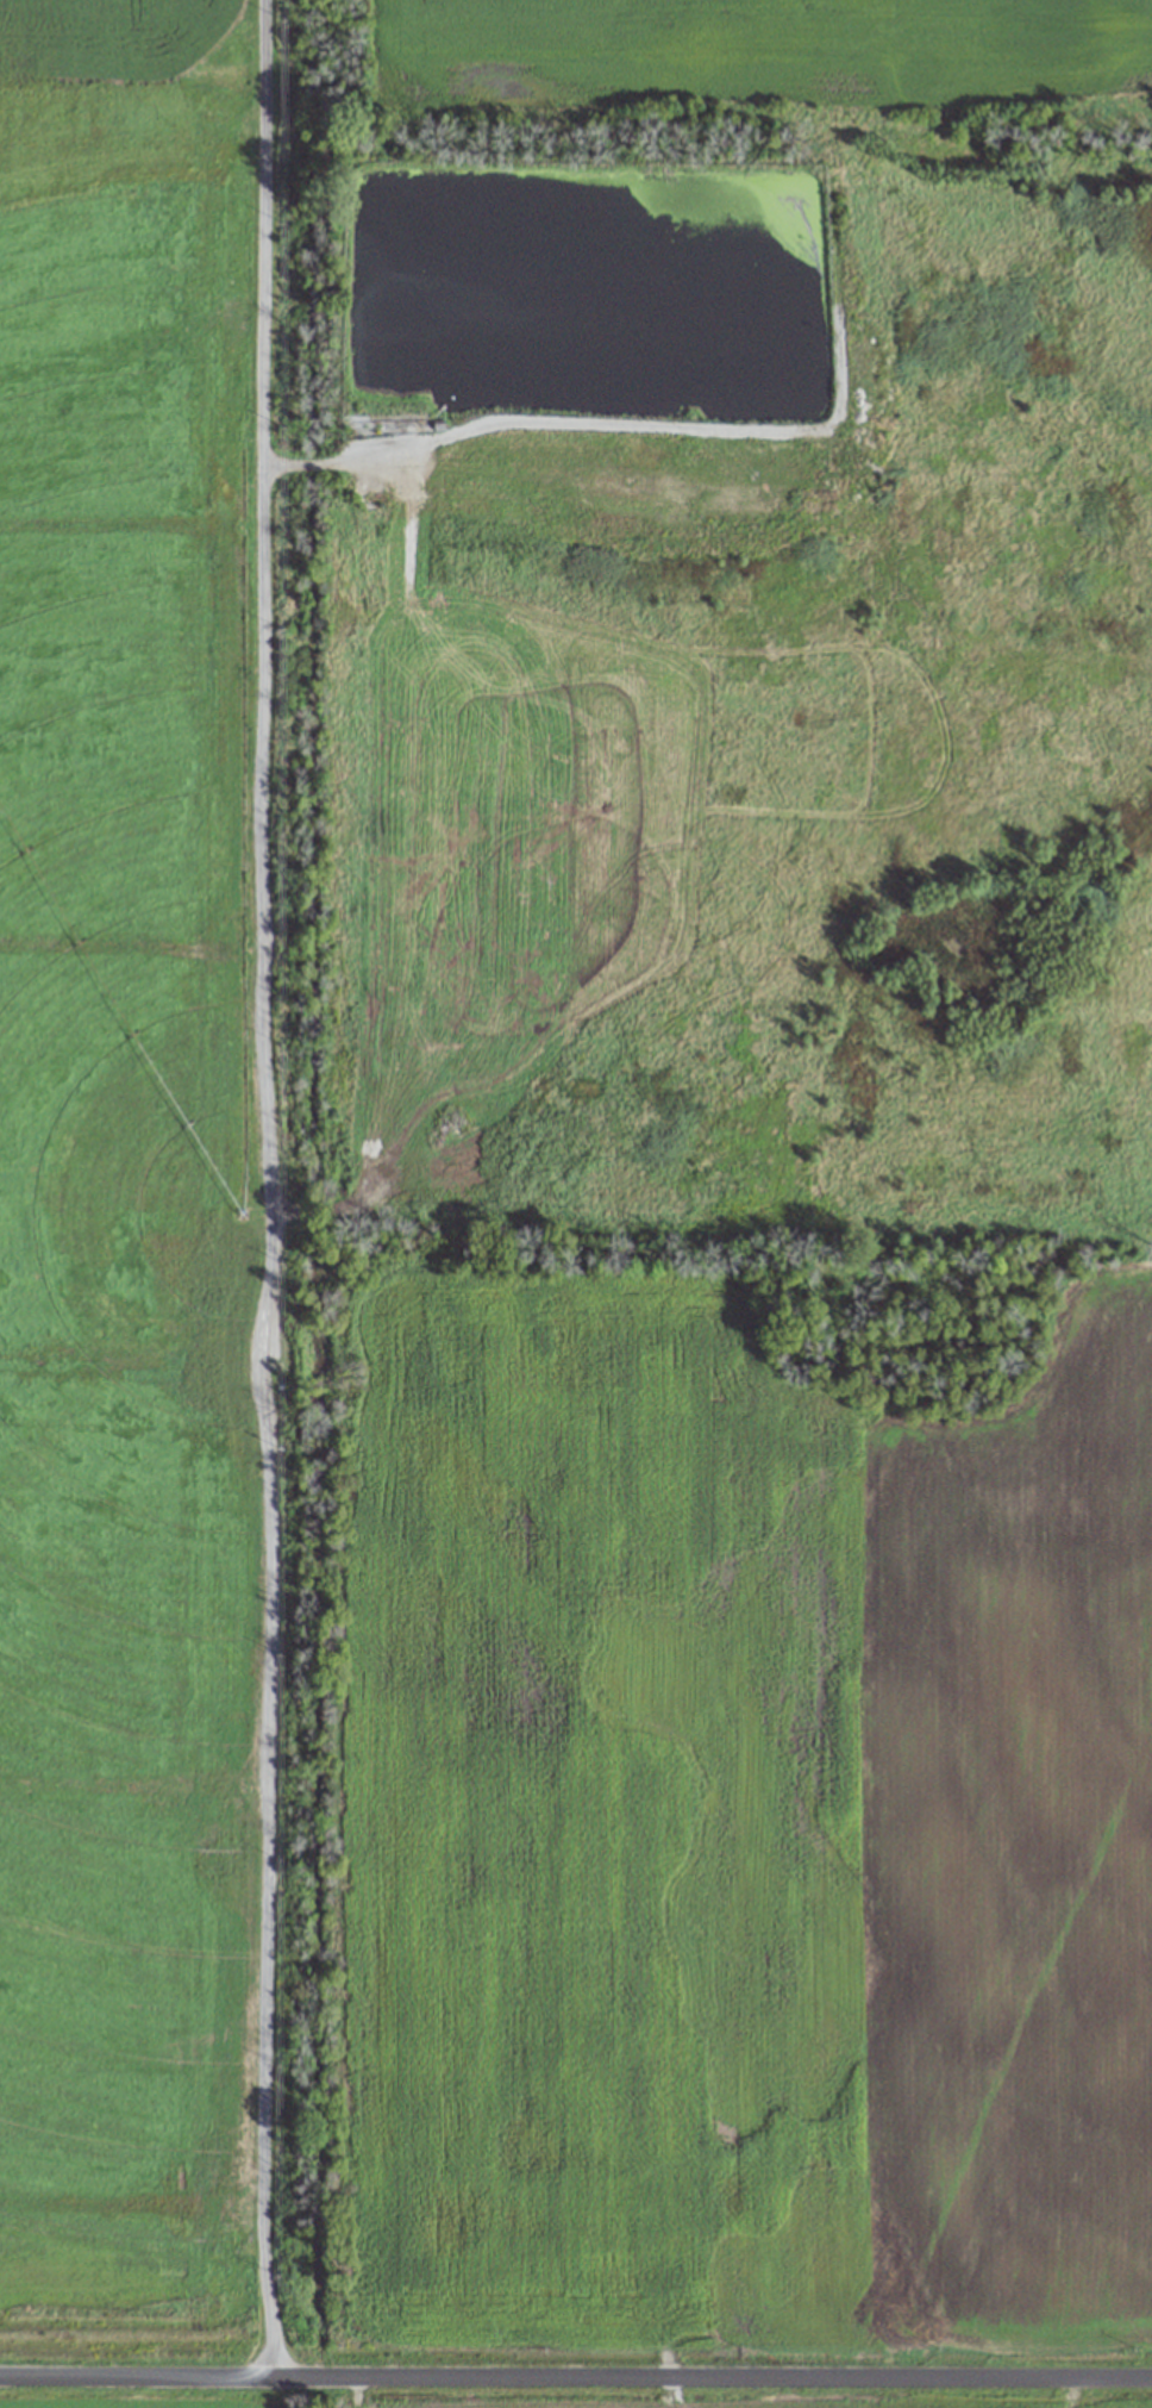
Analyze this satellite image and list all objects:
crop: (763, 52)
road: (271, 1187)
road: (576, 2376)

